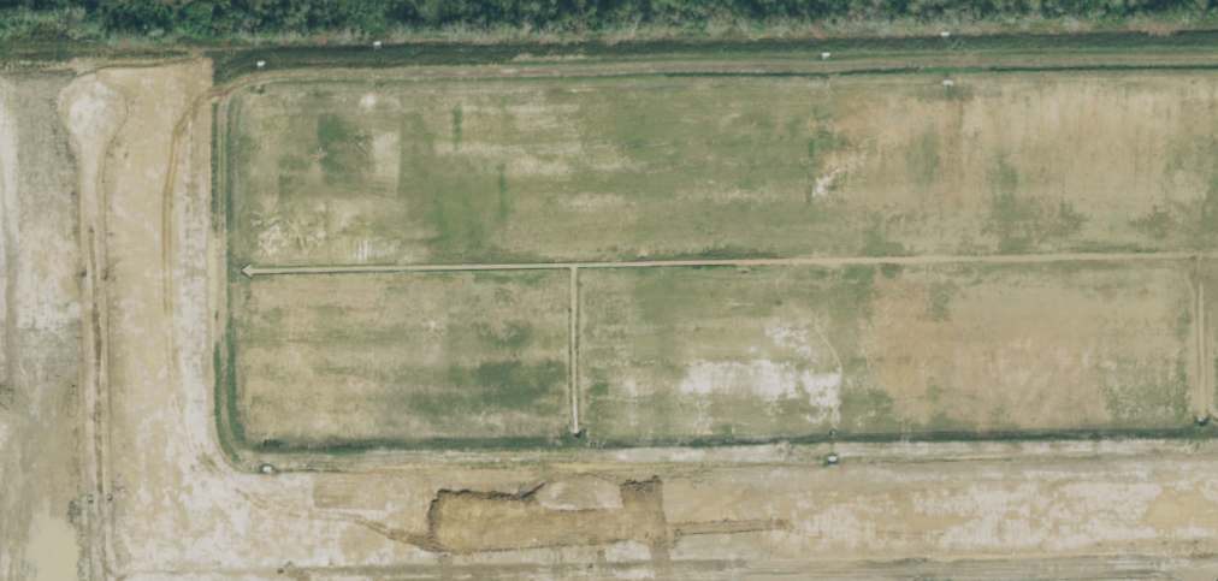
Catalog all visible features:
road: (99, 346)
road: (661, 570)
road: (1195, 571)
road: (558, 576)

